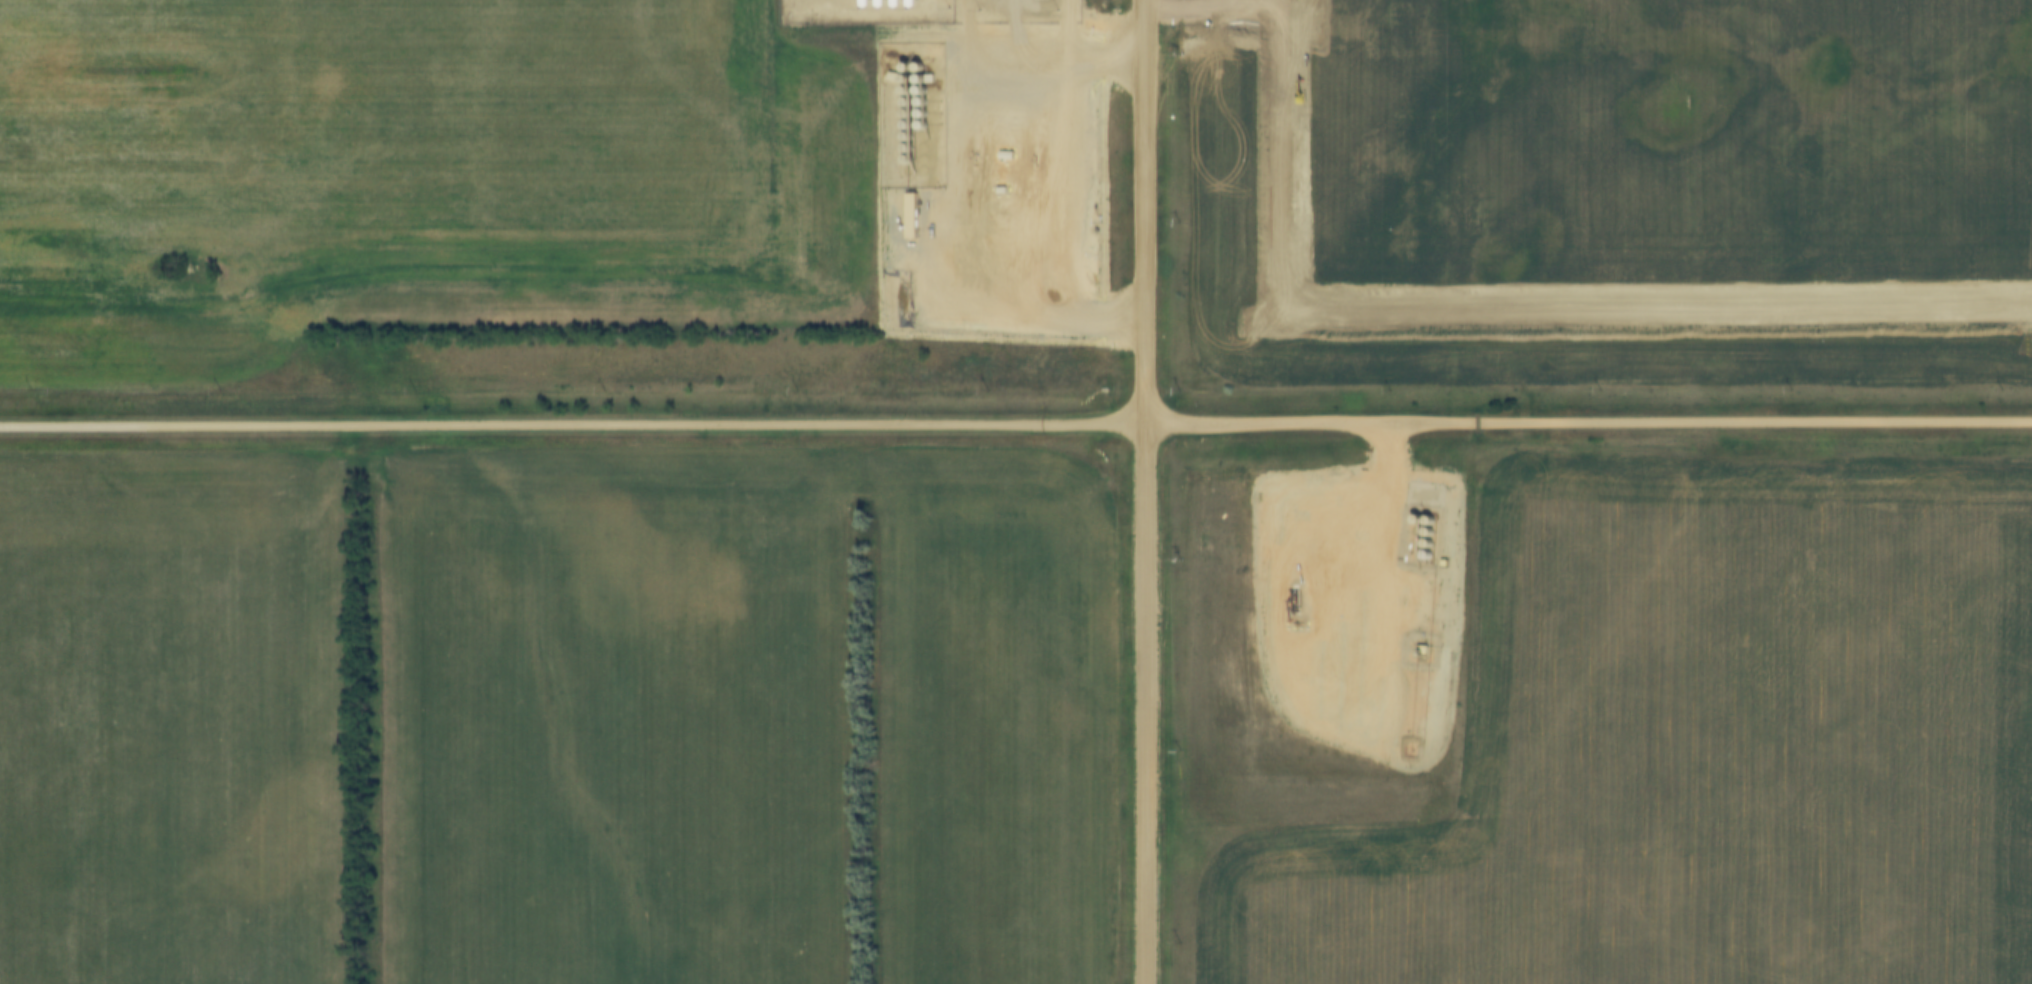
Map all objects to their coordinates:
building: (912, 212)
road: (1587, 424)
road: (571, 426)
road: (1144, 492)

